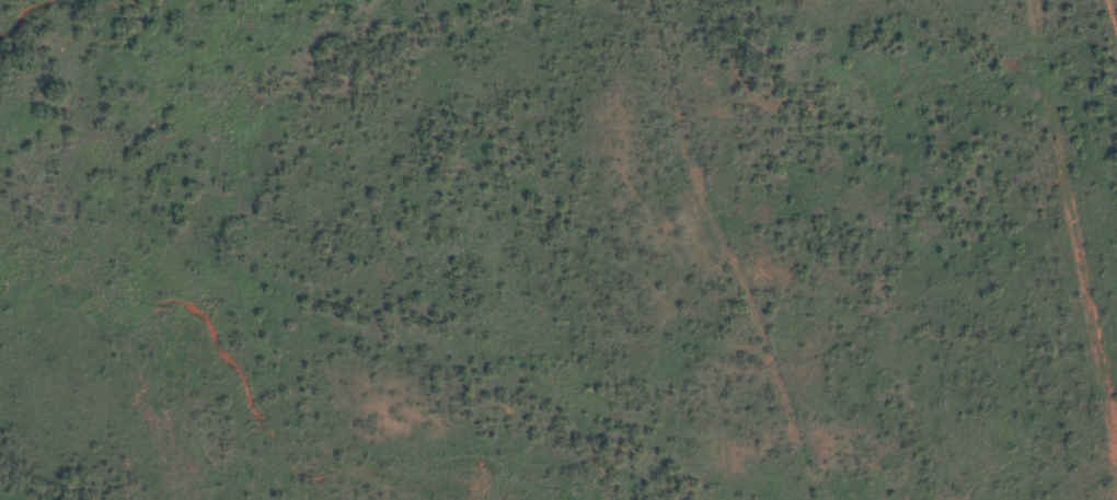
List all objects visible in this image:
road: (1107, 30)

